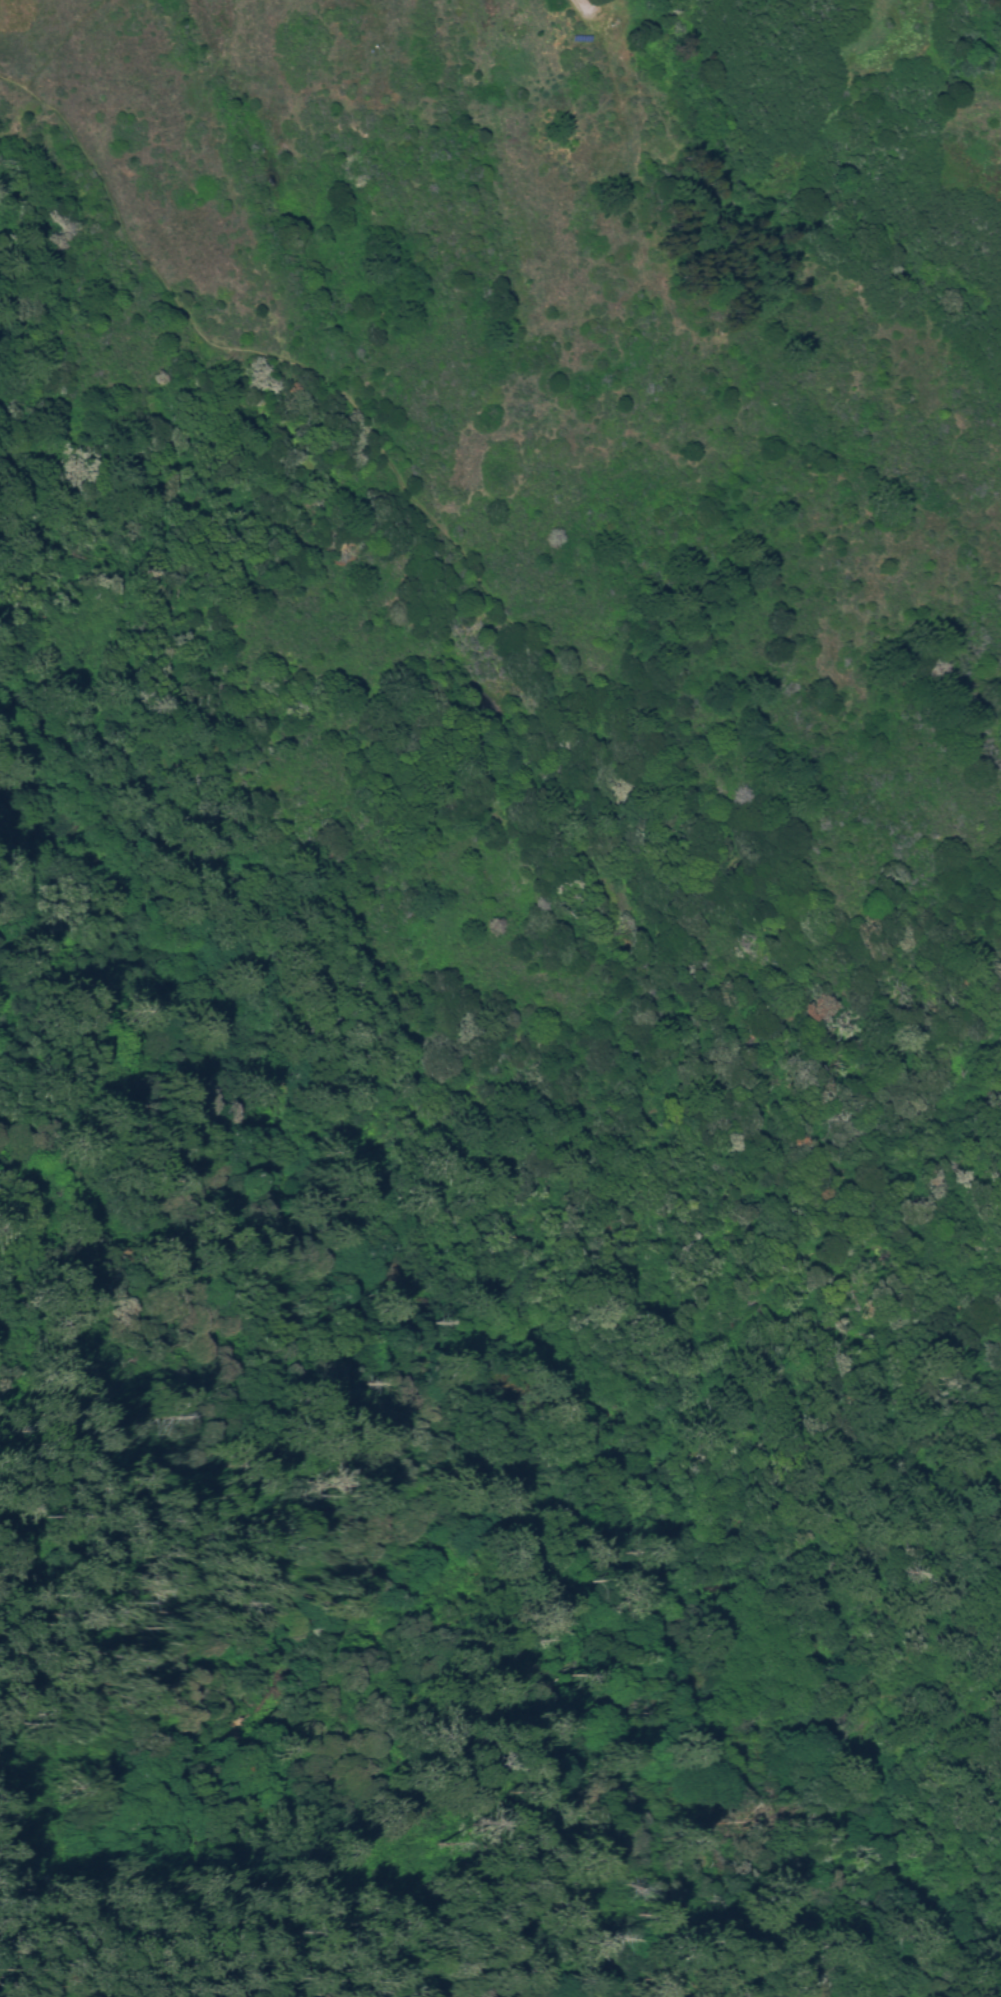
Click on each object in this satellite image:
road: (576, 4)
road: (548, 668)

